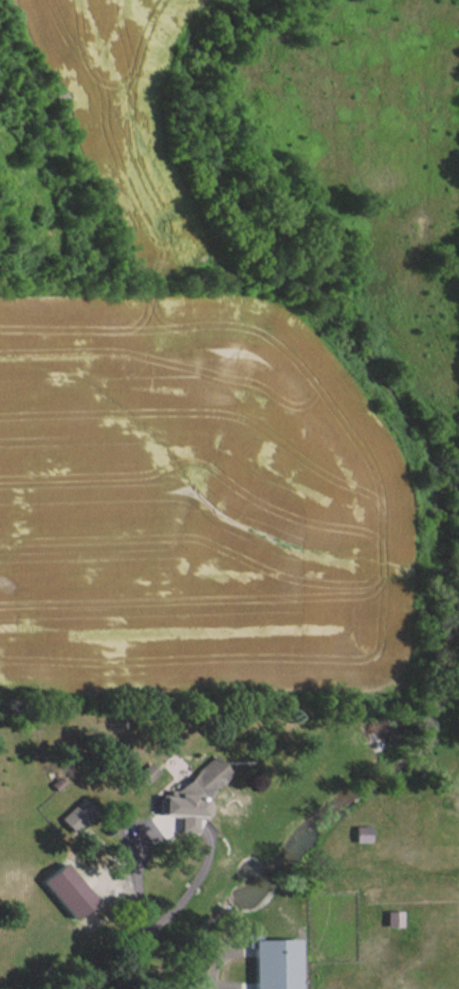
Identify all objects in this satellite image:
building: (149, 772)
building: (196, 793)
building: (79, 814)
building: (361, 833)
building: (68, 889)
building: (392, 917)
road: (158, 919)
road: (279, 932)
building: (274, 963)
road: (214, 975)

